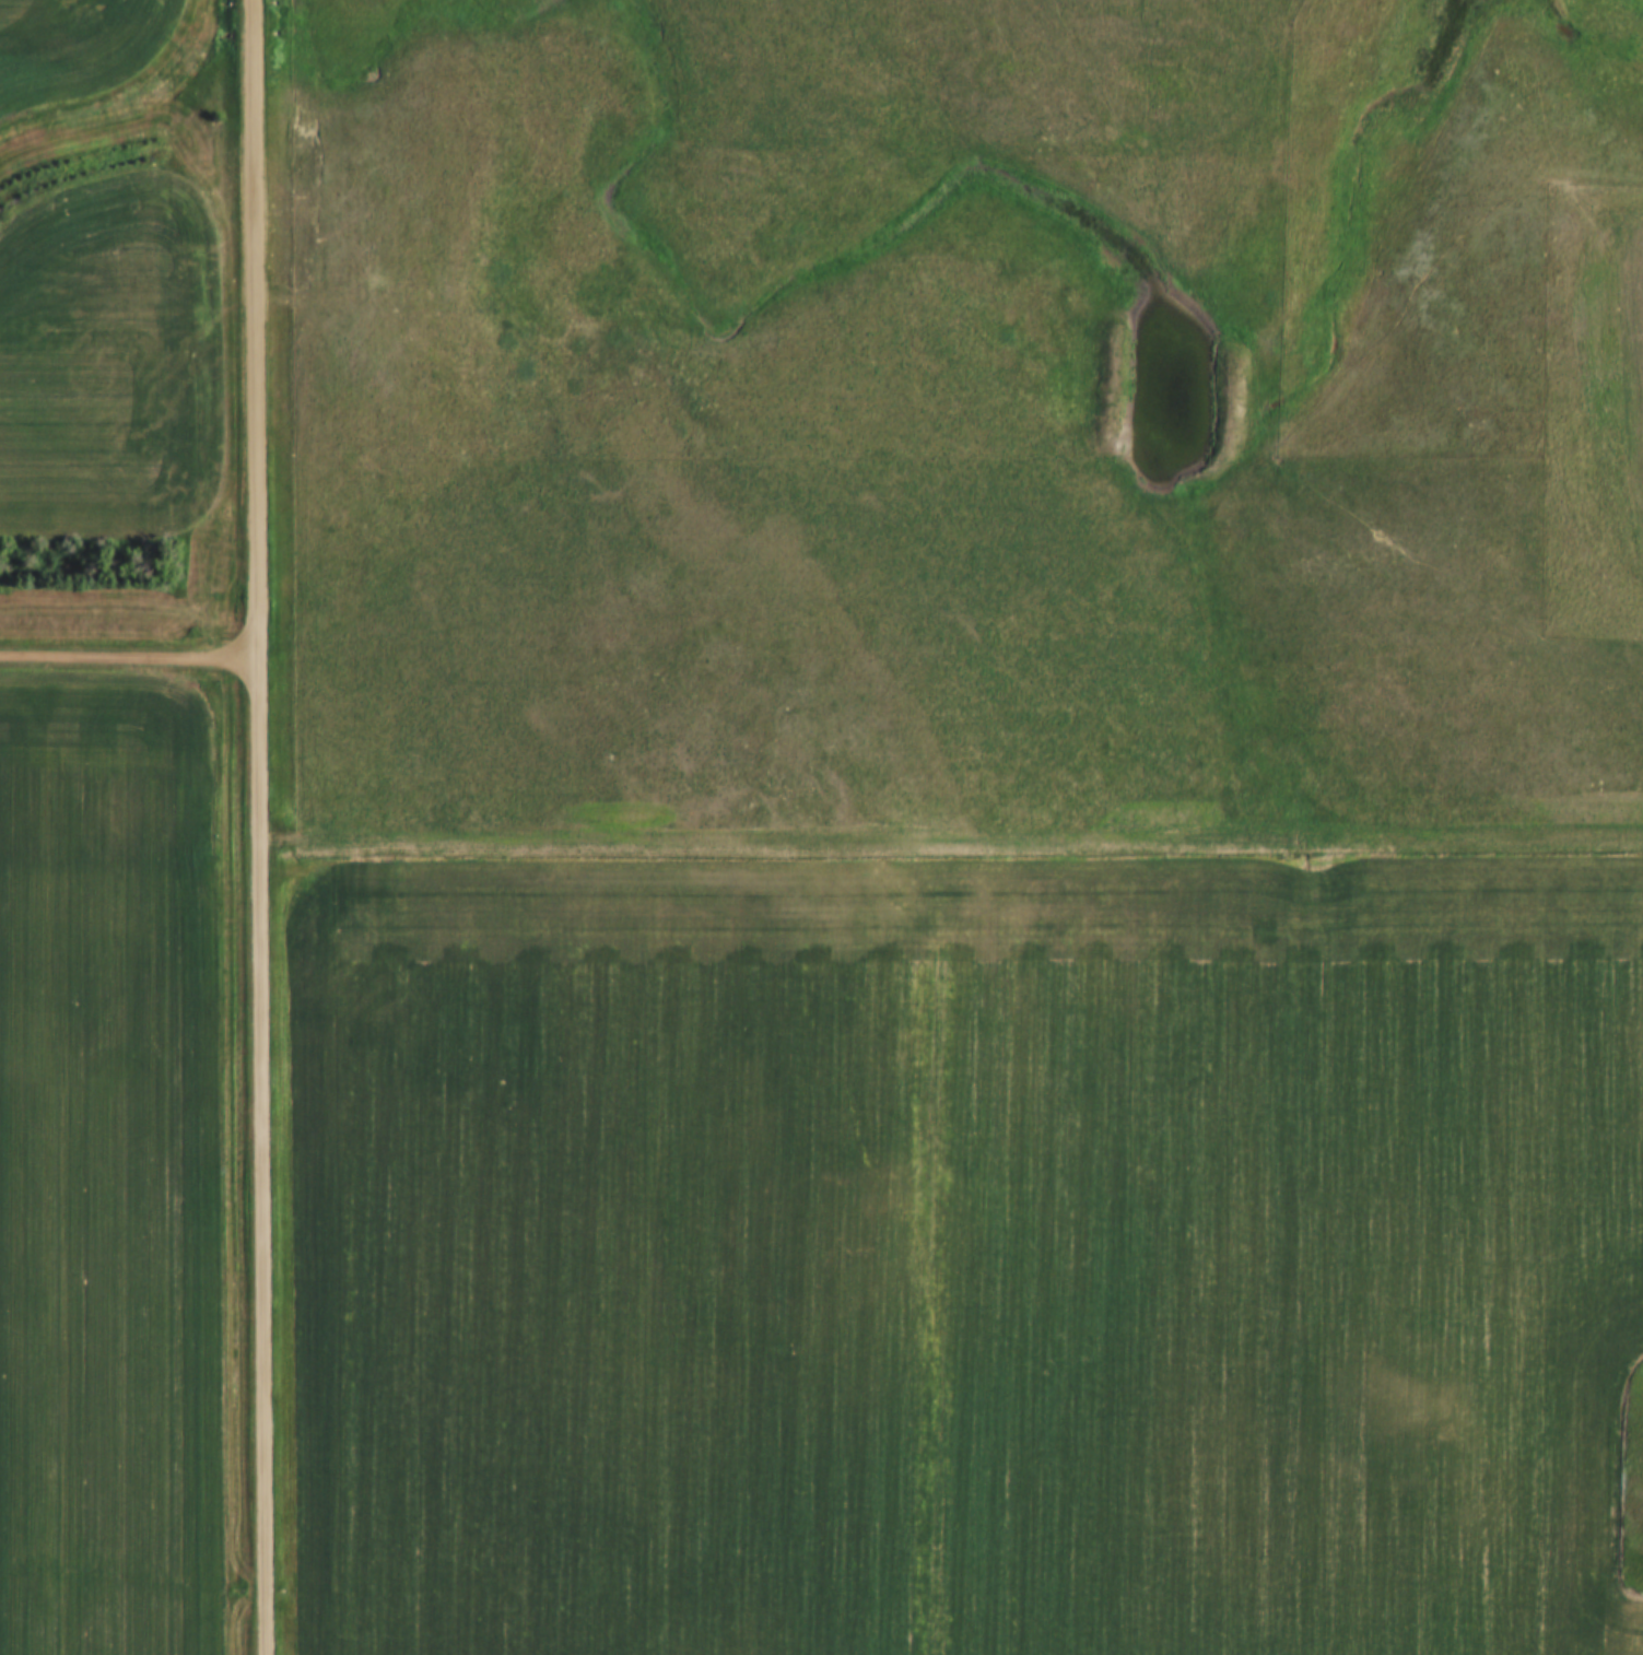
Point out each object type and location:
road: (130, 659)
road: (265, 826)
road: (953, 841)

